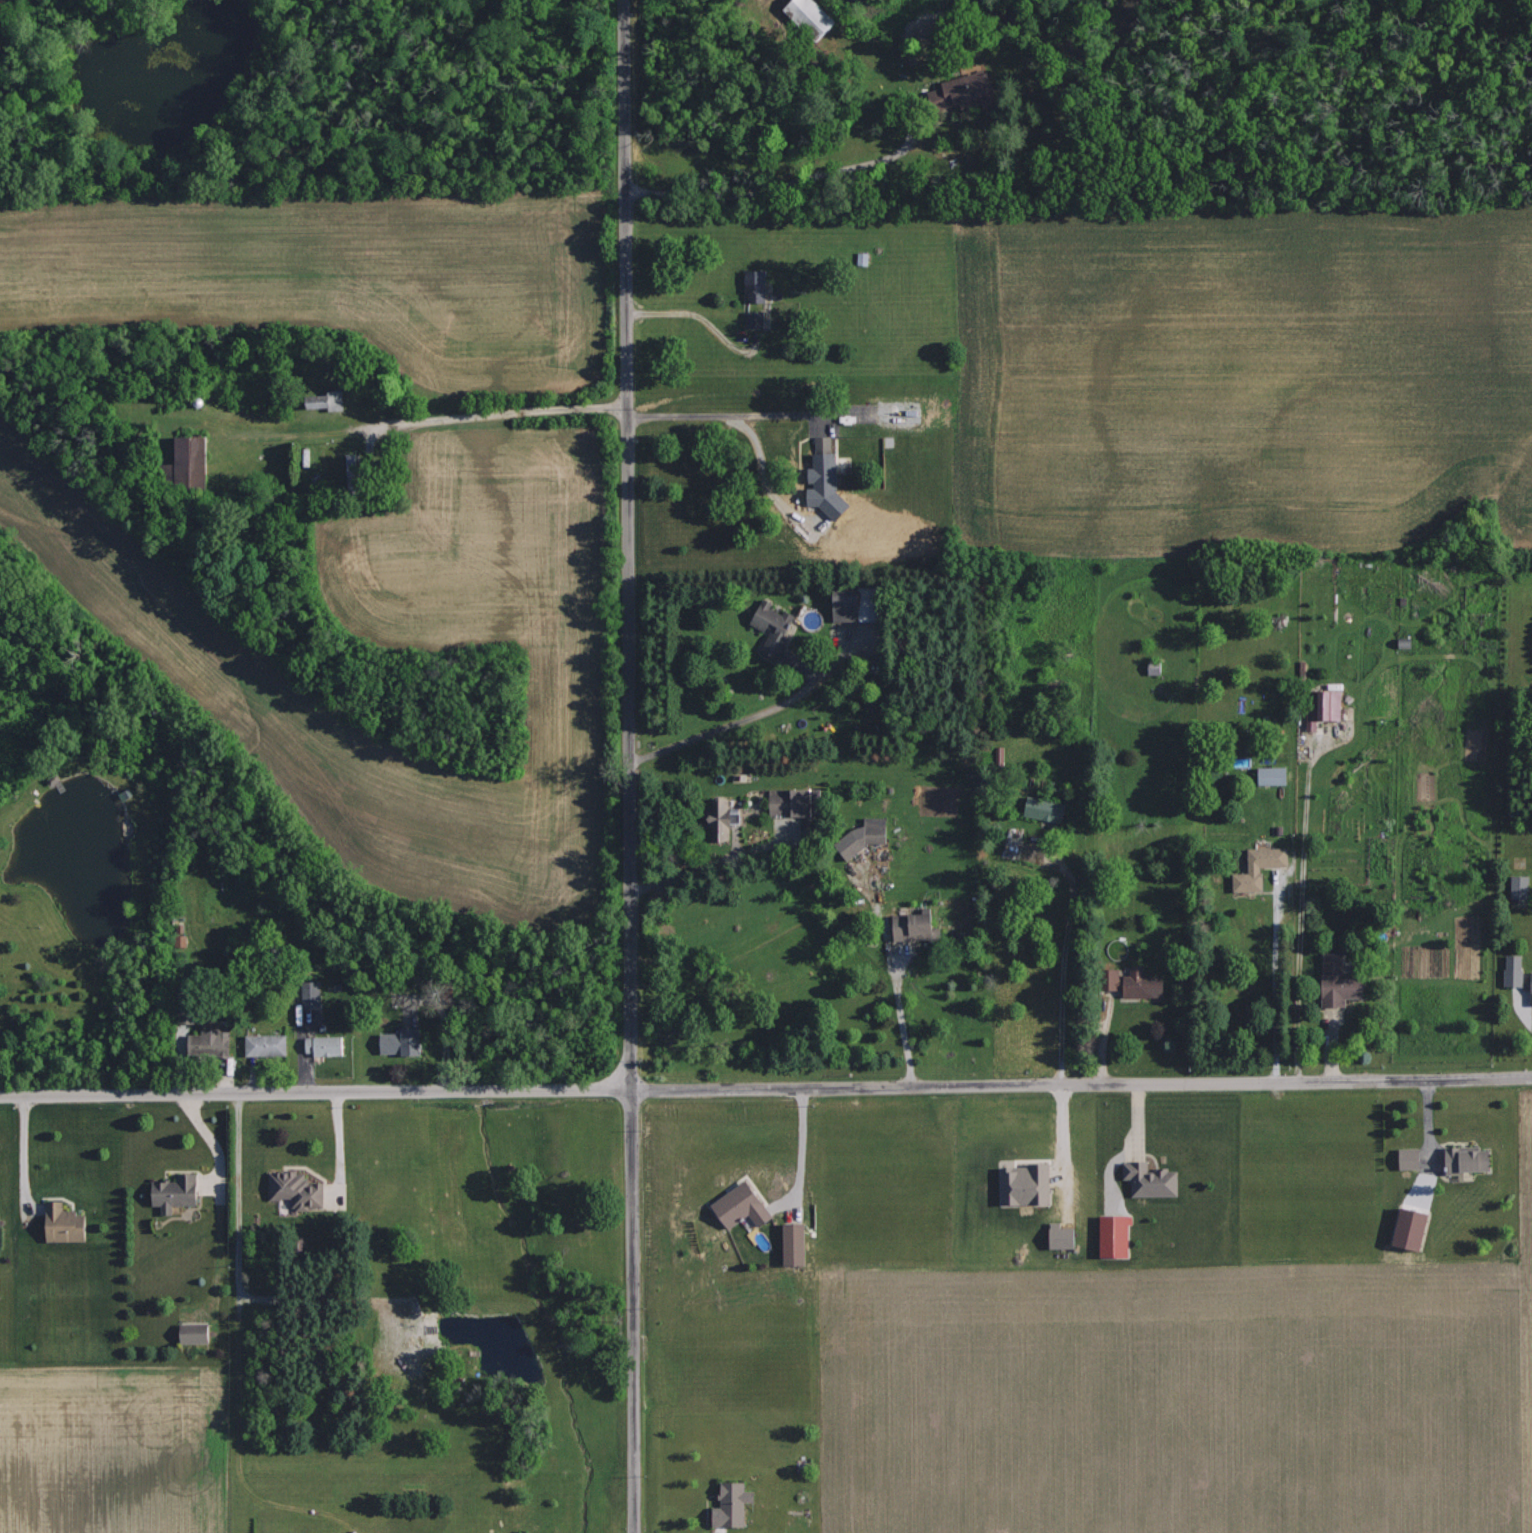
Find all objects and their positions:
building: (813, 16)
building: (956, 91)
building: (754, 285)
road: (692, 314)
building: (754, 319)
building: (324, 400)
road: (726, 414)
road: (495, 420)
building: (193, 461)
building: (820, 464)
building: (839, 605)
building: (771, 627)
building: (1152, 667)
building: (1324, 707)
road: (628, 766)
building: (1270, 775)
building: (786, 802)
building: (1041, 809)
building: (719, 817)
building: (861, 837)
building: (1256, 867)
building: (1518, 887)
building: (909, 926)
road: (1064, 967)
building: (1512, 970)
building: (1129, 982)
building: (1333, 982)
building: (1530, 988)
building: (313, 994)
building: (404, 1042)
building: (214, 1043)
building: (269, 1045)
building: (326, 1046)
road: (1081, 1083)
road: (314, 1091)
road: (24, 1154)
building: (1405, 1158)
building: (1464, 1160)
building: (1147, 1179)
building: (1021, 1184)
building: (299, 1190)
building: (178, 1192)
building: (737, 1206)
building: (68, 1224)
building: (1405, 1229)
building: (1111, 1235)
building: (1059, 1236)
building: (791, 1244)
building: (198, 1333)
road: (232, 1353)
building: (728, 1504)

